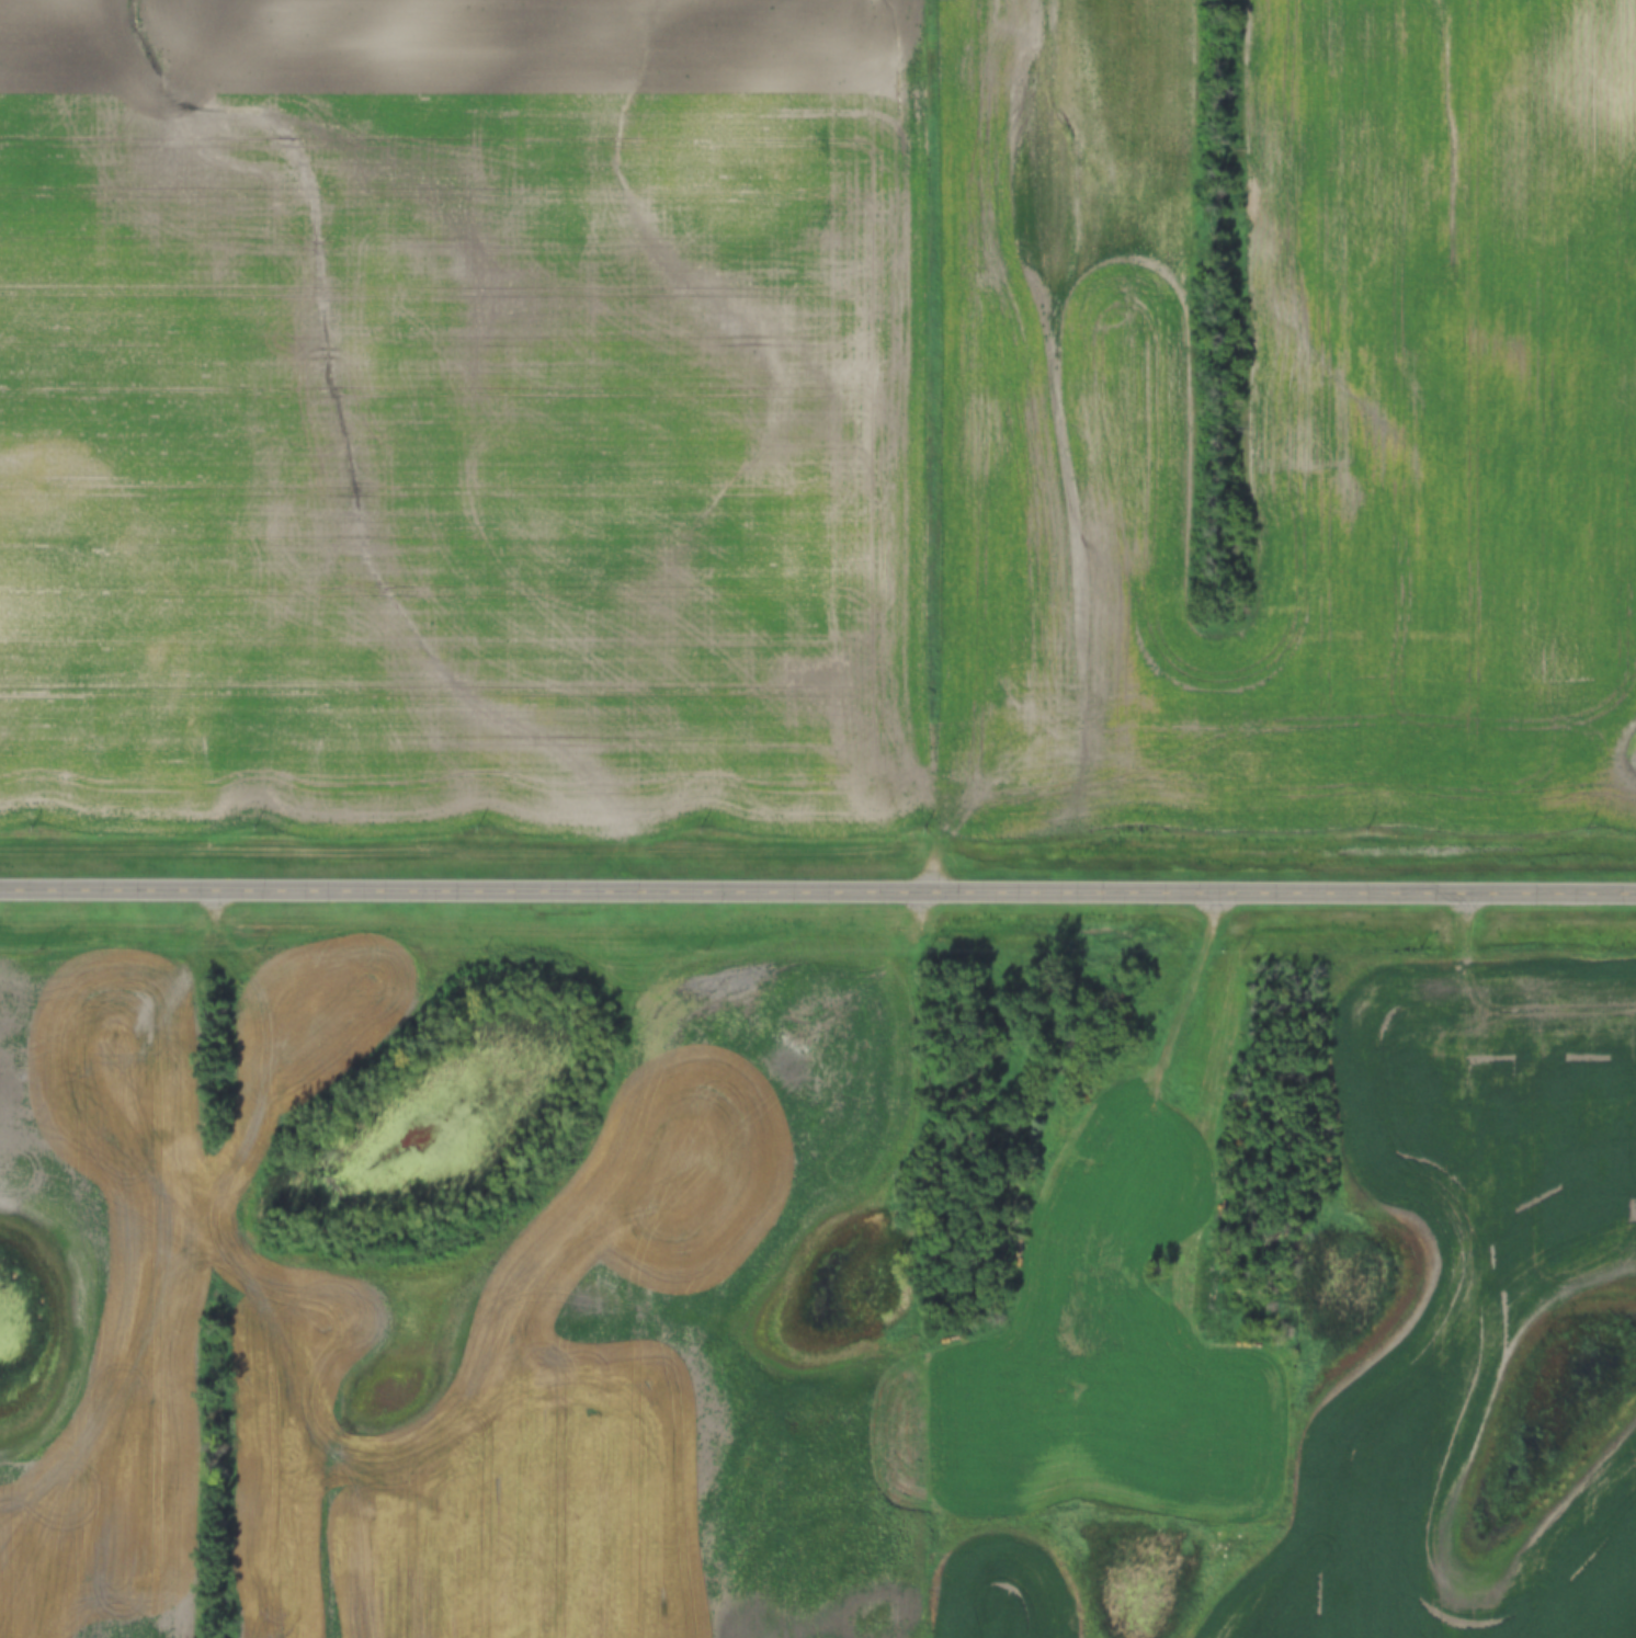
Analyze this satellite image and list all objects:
road: (818, 889)
road: (1159, 1090)
building: (1102, 1140)
building: (1208, 1204)
building: (1100, 1282)
building: (1213, 1297)
building: (1099, 1384)

